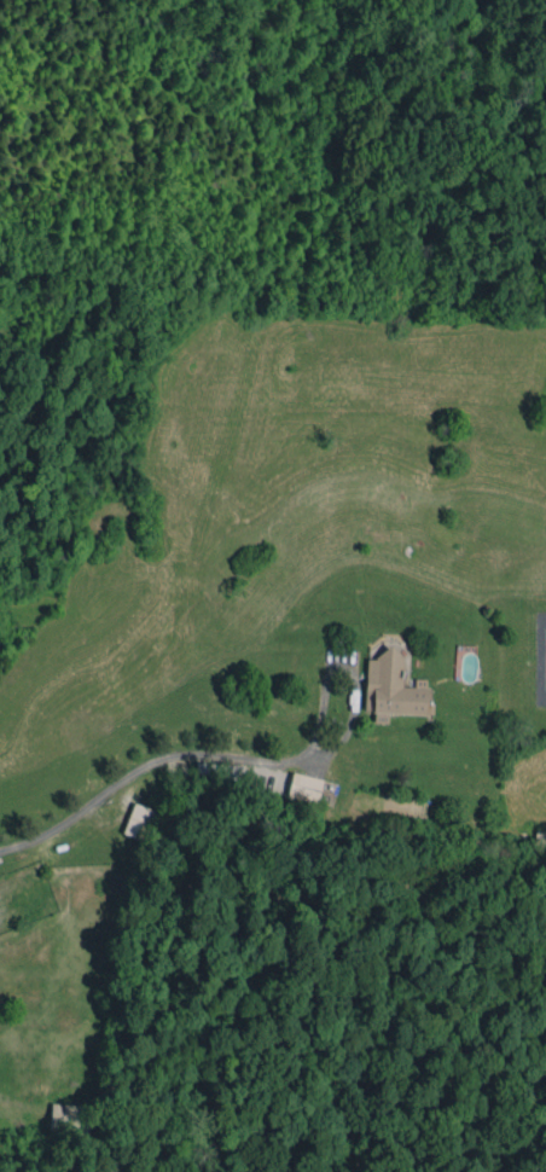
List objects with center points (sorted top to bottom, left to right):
road: (352, 669)
building: (391, 687)
road: (144, 762)
building: (304, 787)
building: (139, 820)
building: (69, 1118)

